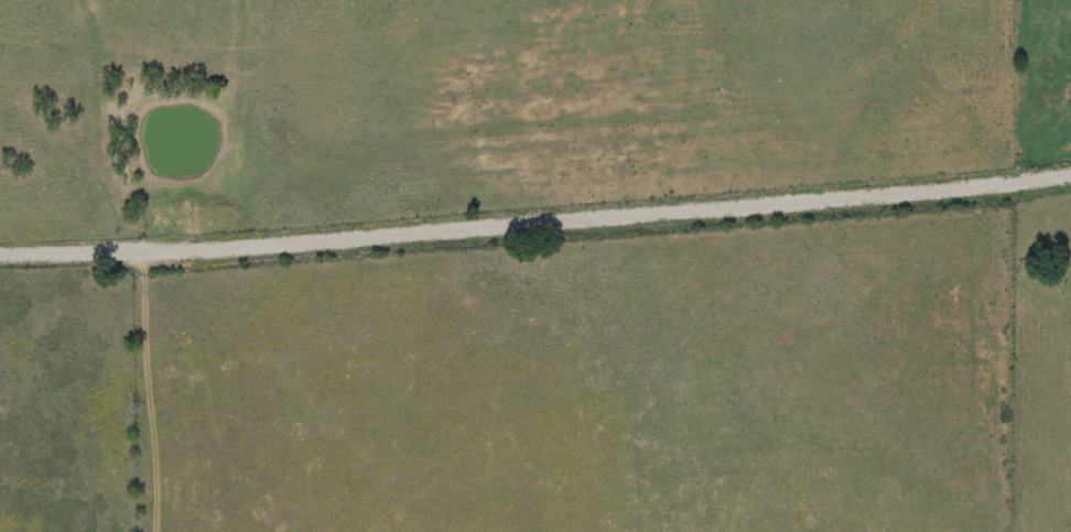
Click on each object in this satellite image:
road: (534, 210)
road: (173, 374)

